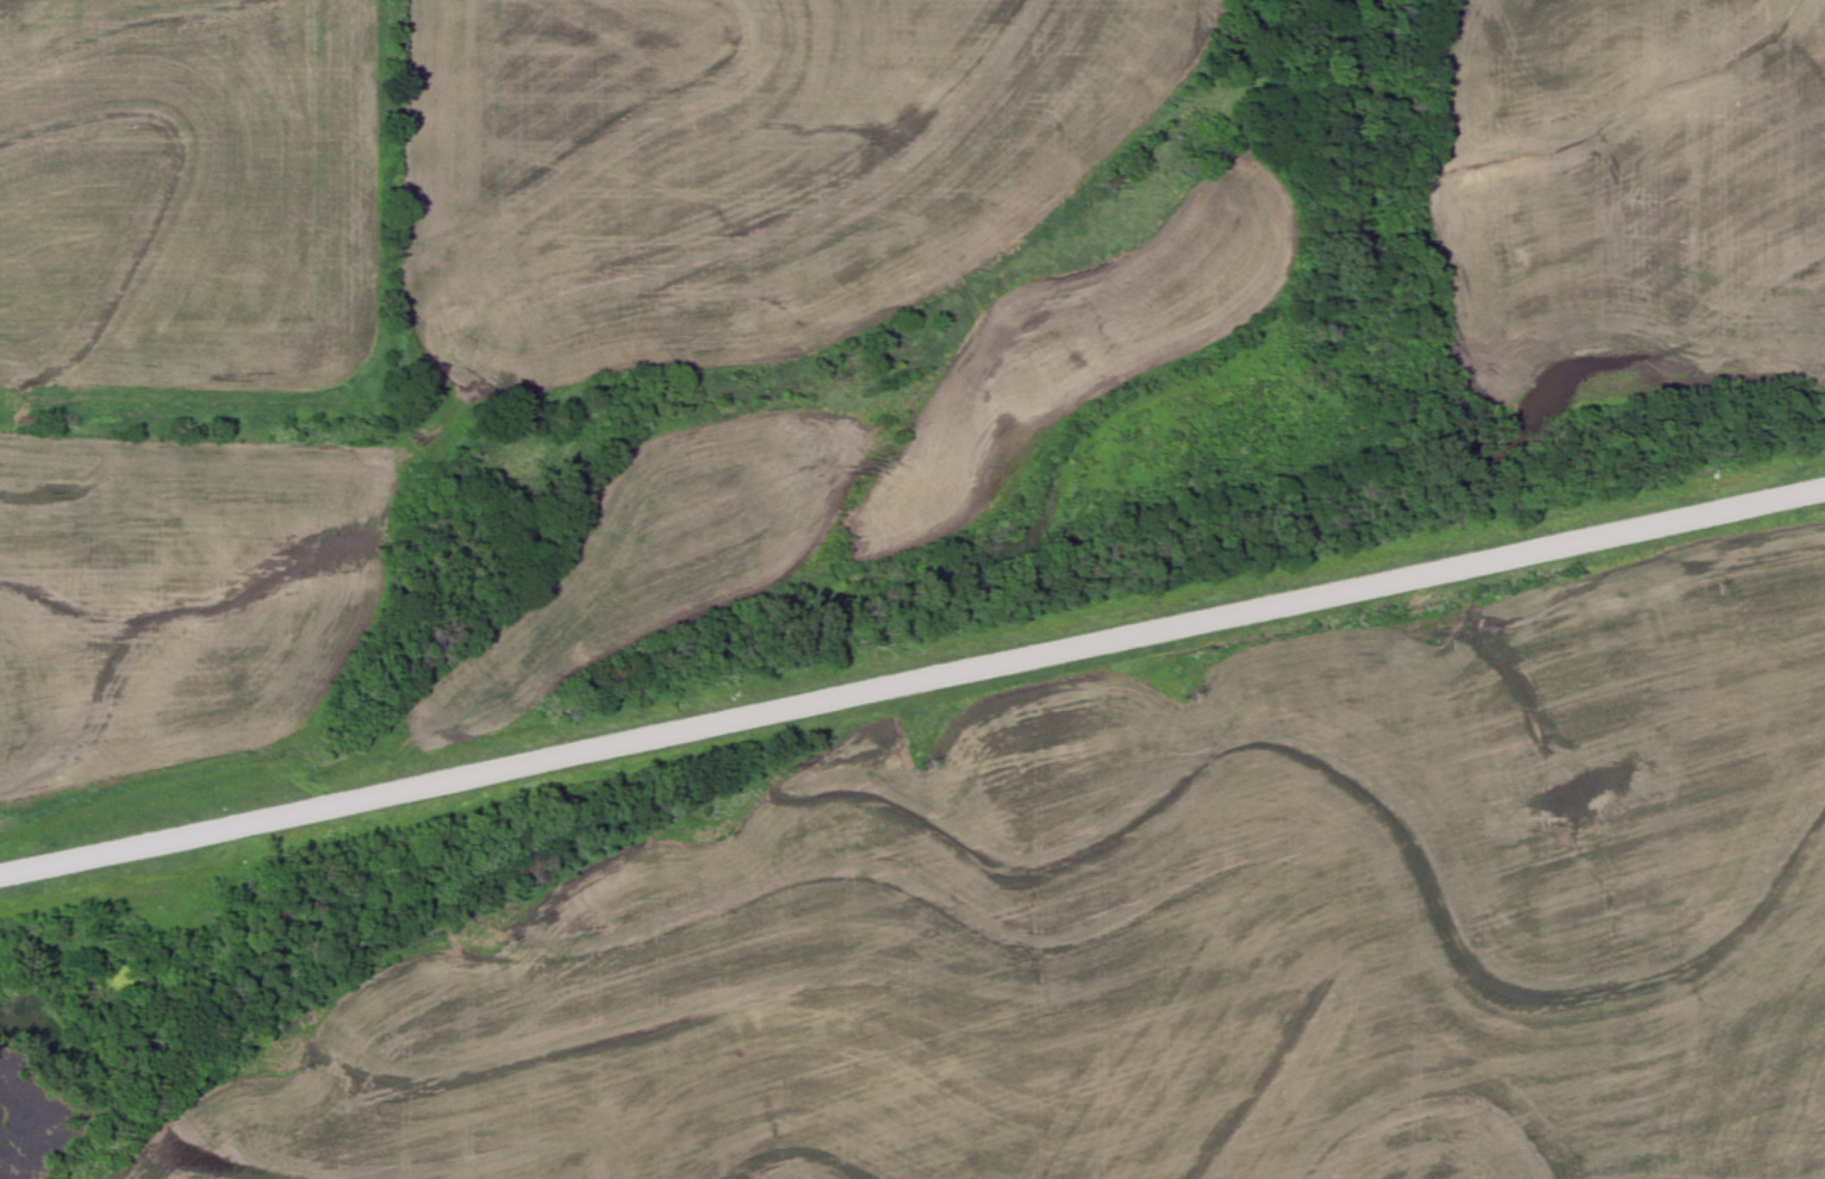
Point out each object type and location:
crop: (746, 164)
crop: (187, 194)
crop: (1625, 199)
crop: (865, 454)
crop: (175, 600)
road: (913, 684)
crop: (1175, 931)

